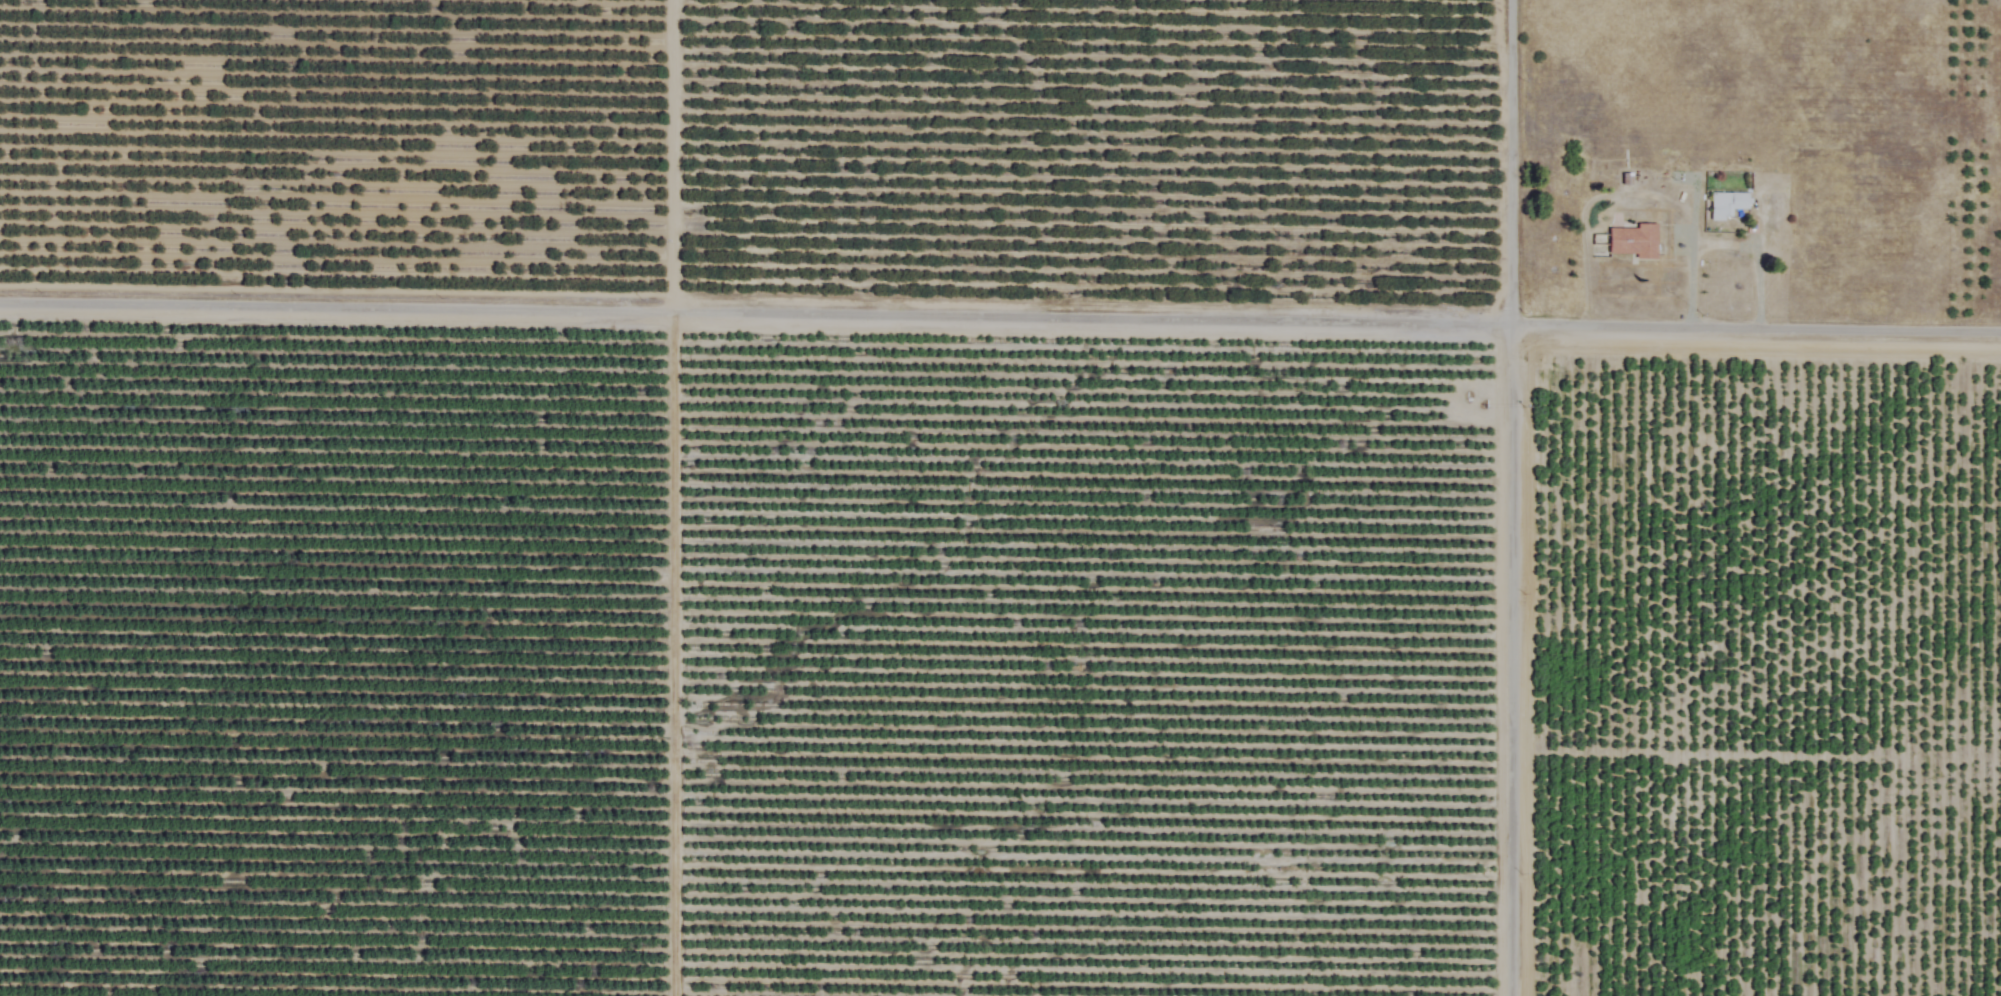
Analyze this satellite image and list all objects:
road: (1631, 198)
building: (1725, 206)
building: (1632, 241)
road: (1755, 260)
road: (1000, 321)
road: (1500, 498)
crop: (930, 528)
road: (675, 656)

